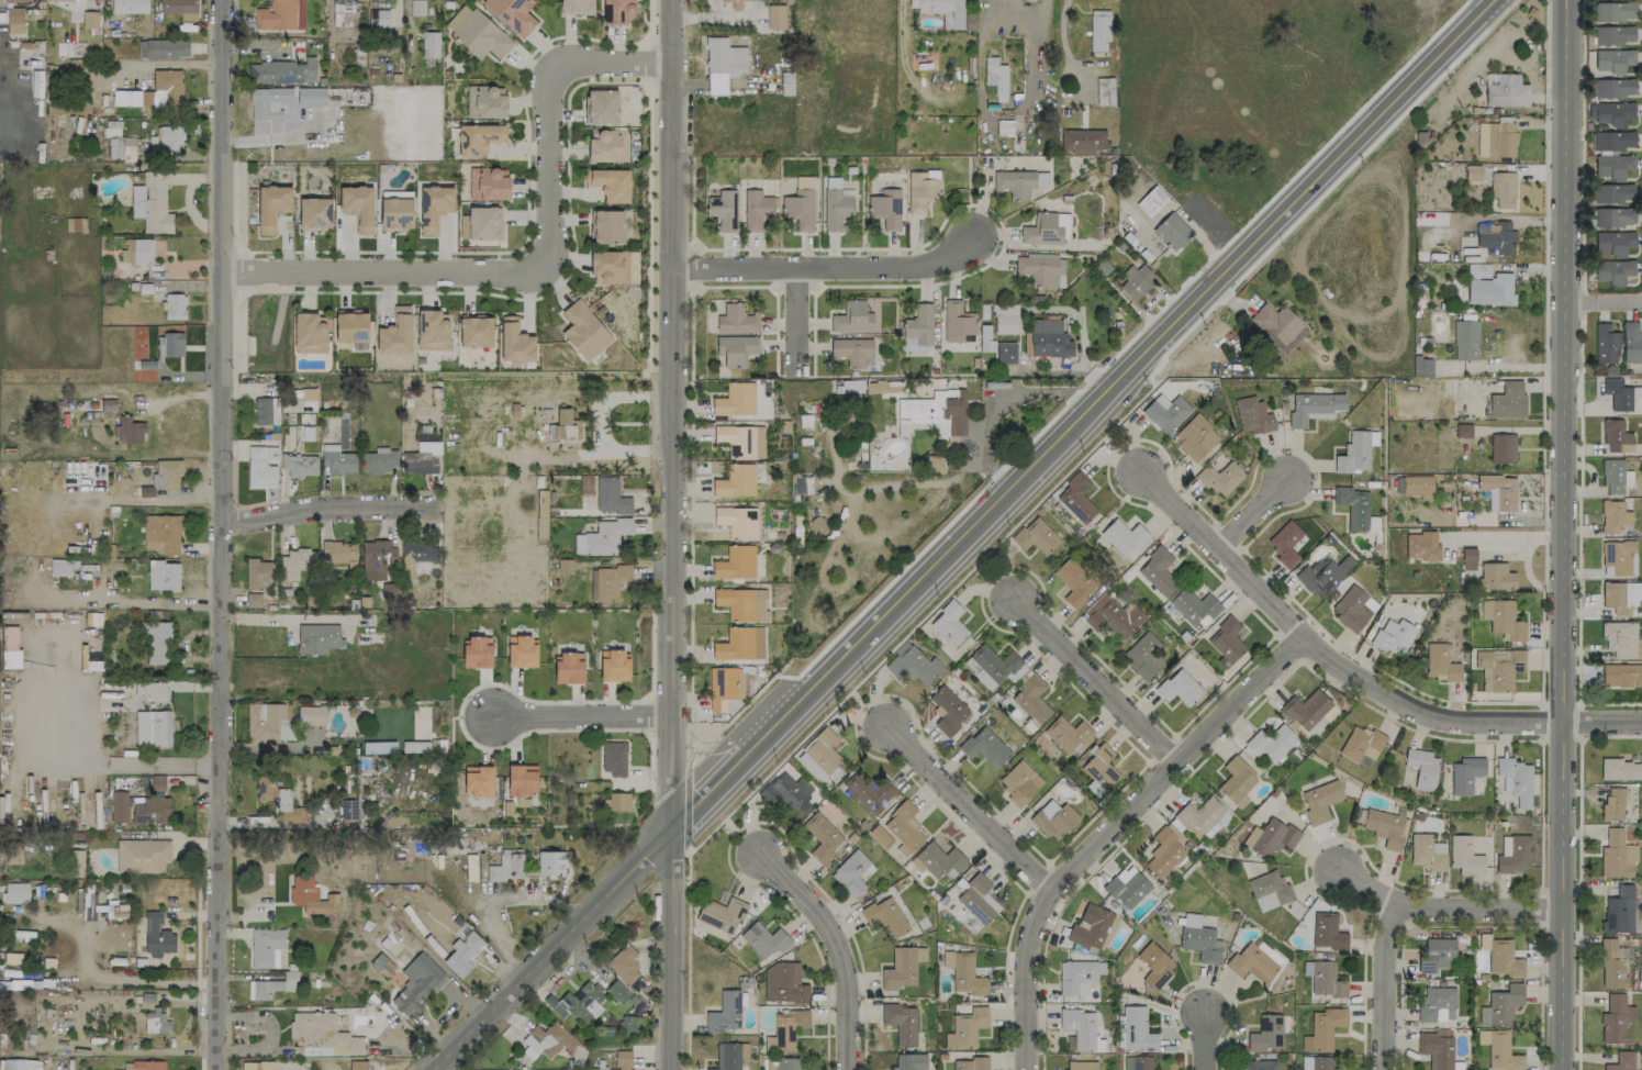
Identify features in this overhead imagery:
building: (18, 0)
building: (479, 0)
building: (734, 3)
building: (344, 4)
building: (129, 5)
building: (177, 5)
building: (576, 7)
building: (617, 11)
building: (942, 11)
building: (1615, 11)
building: (512, 14)
building: (280, 15)
building: (775, 16)
building: (378, 18)
building: (14, 20)
building: (1098, 30)
building: (477, 32)
road: (1062, 33)
building: (1613, 35)
building: (429, 44)
building: (163, 48)
building: (1613, 60)
road: (611, 63)
building: (723, 64)
building: (282, 71)
building: (996, 77)
building: (1615, 87)
building: (1505, 90)
building: (153, 91)
building: (1104, 91)
building: (311, 97)
building: (268, 102)
building: (484, 102)
building: (601, 107)
building: (1612, 113)
road: (276, 136)
building: (1496, 138)
building: (170, 140)
building: (478, 140)
building: (1612, 140)
building: (1083, 141)
building: (607, 145)
building: (114, 147)
building: (1612, 165)
road: (551, 168)
building: (1041, 179)
building: (1014, 182)
building: (488, 183)
building: (610, 183)
building: (1503, 189)
building: (1613, 193)
building: (1151, 200)
building: (152, 204)
building: (271, 207)
building: (357, 207)
building: (434, 207)
building: (756, 209)
building: (798, 209)
building: (836, 209)
building: (885, 209)
building: (915, 209)
building: (723, 210)
building: (314, 213)
building: (395, 213)
building: (1612, 216)
building: (481, 223)
building: (606, 226)
building: (1045, 229)
building: (1172, 232)
building: (1495, 237)
building: (1612, 242)
building: (141, 249)
road: (516, 249)
building: (610, 266)
road: (826, 267)
building: (1040, 269)
building: (1612, 270)
road: (383, 272)
building: (1136, 280)
building: (1490, 289)
road: (1579, 301)
road: (1618, 301)
building: (175, 306)
building: (852, 317)
building: (1005, 319)
building: (737, 320)
building: (957, 321)
road: (798, 322)
building: (919, 324)
building: (1277, 325)
building: (351, 327)
building: (432, 331)
building: (474, 331)
building: (583, 331)
building: (310, 333)
building: (394, 333)
building: (1048, 338)
building: (1465, 339)
building: (515, 342)
building: (1631, 342)
building: (172, 344)
building: (1605, 344)
building: (736, 349)
building: (852, 350)
building: (1005, 353)
road: (1116, 354)
building: (1422, 366)
road: (1503, 367)
building: (1617, 393)
building: (735, 399)
building: (1507, 400)
road: (1001, 403)
building: (925, 408)
building: (1314, 408)
building: (263, 411)
building: (1165, 412)
road: (671, 415)
building: (1252, 415)
building: (562, 425)
building: (130, 430)
road: (1107, 431)
building: (1195, 436)
building: (1616, 436)
building: (740, 439)
building: (1503, 448)
building: (1354, 453)
building: (422, 458)
building: (337, 459)
building: (379, 460)
building: (299, 465)
building: (261, 467)
building: (168, 473)
building: (1615, 476)
road: (691, 478)
building: (1220, 478)
building: (736, 481)
building: (1417, 486)
building: (1498, 491)
building: (610, 497)
building: (1076, 498)
road: (152, 500)
building: (1353, 506)
road: (329, 508)
road: (1252, 509)
building: (1613, 516)
building: (737, 521)
road: (1544, 524)
building: (161, 534)
road: (1564, 534)
road: (221, 535)
road: (965, 535)
building: (1035, 536)
building: (1122, 536)
building: (602, 537)
road: (1509, 537)
building: (1284, 542)
building: (1421, 545)
building: (338, 554)
building: (416, 554)
building: (377, 558)
building: (1468, 558)
building: (1618, 558)
building: (297, 562)
building: (735, 562)
building: (258, 571)
building: (1158, 571)
road: (1528, 575)
building: (163, 576)
building: (1319, 576)
building: (1495, 576)
building: (610, 581)
building: (1074, 581)
building: (1617, 597)
road: (118, 600)
building: (253, 600)
building: (741, 603)
building: (1194, 608)
building: (1353, 608)
road: (273, 615)
building: (1113, 616)
building: (1501, 618)
building: (949, 623)
building: (1394, 636)
building: (317, 637)
building: (1619, 638)
building: (1226, 642)
building: (157, 643)
building: (739, 644)
building: (477, 651)
building: (521, 651)
building: (1143, 656)
building: (1440, 662)
building: (913, 664)
building: (614, 666)
building: (993, 666)
building: (568, 668)
building: (1498, 668)
road: (1351, 673)
building: (1621, 675)
road: (1090, 676)
building: (722, 688)
building: (1179, 688)
building: (150, 690)
building: (1031, 699)
building: (1305, 709)
building: (948, 710)
building: (311, 713)
road: (583, 717)
building: (153, 727)
building: (1066, 734)
building: (1271, 742)
road: (721, 744)
building: (1361, 746)
building: (985, 747)
road: (83, 757)
building: (614, 758)
building: (820, 758)
building: (1099, 766)
building: (1422, 768)
building: (1621, 769)
building: (1465, 774)
building: (521, 780)
building: (1515, 780)
building: (478, 781)
building: (1237, 781)
building: (1019, 782)
road: (685, 787)
building: (1094, 788)
building: (868, 792)
building: (788, 793)
building: (280, 800)
building: (617, 801)
road: (967, 801)
building: (1319, 801)
building: (1612, 803)
building: (119, 806)
building: (149, 810)
building: (1202, 817)
building: (1053, 818)
road: (1108, 826)
building: (904, 827)
building: (1386, 827)
building: (822, 836)
building: (1270, 837)
building: (1164, 850)
building: (1427, 851)
building: (33, 854)
building: (1515, 854)
building: (1464, 855)
building: (1617, 855)
building: (142, 856)
building: (940, 860)
building: (77, 862)
building: (551, 862)
building: (506, 867)
building: (851, 872)
road: (1577, 872)
building: (1127, 887)
building: (1269, 890)
building: (15, 892)
building: (978, 899)
road: (503, 901)
building: (323, 904)
road: (1442, 911)
building: (1618, 911)
building: (722, 914)
building: (885, 916)
building: (1090, 927)
building: (1327, 932)
building: (157, 936)
building: (764, 939)
building: (1199, 939)
building: (267, 947)
road: (836, 949)
road: (672, 950)
building: (462, 954)
building: (1437, 955)
building: (1500, 956)
building: (1253, 960)
building: (623, 962)
building: (1154, 965)
building: (1610, 965)
building: (902, 967)
building: (964, 972)
road: (112, 977)
building: (1077, 977)
building: (1323, 979)
building: (783, 983)
building: (416, 984)
building: (269, 987)
road: (1382, 987)
building: (617, 991)
building: (579, 1002)
building: (1437, 1004)
building: (1500, 1005)
building: (725, 1013)
building: (1616, 1019)
building: (155, 1023)
building: (627, 1023)
building: (901, 1023)
building: (316, 1027)
building: (965, 1027)
building: (786, 1028)
building: (1322, 1028)
building: (1133, 1029)
building: (1265, 1034)
road: (1203, 1039)
building: (552, 1041)
building: (1436, 1048)
building: (1501, 1052)
building: (727, 1056)
building: (621, 1060)
building: (911, 1061)
building: (1137, 1062)
building: (1318, 1062)
building: (785, 1063)
building: (971, 1063)
building: (147, 1065)
building: (1258, 1065)
building: (1079, 1066)
building: (1617, 1067)

